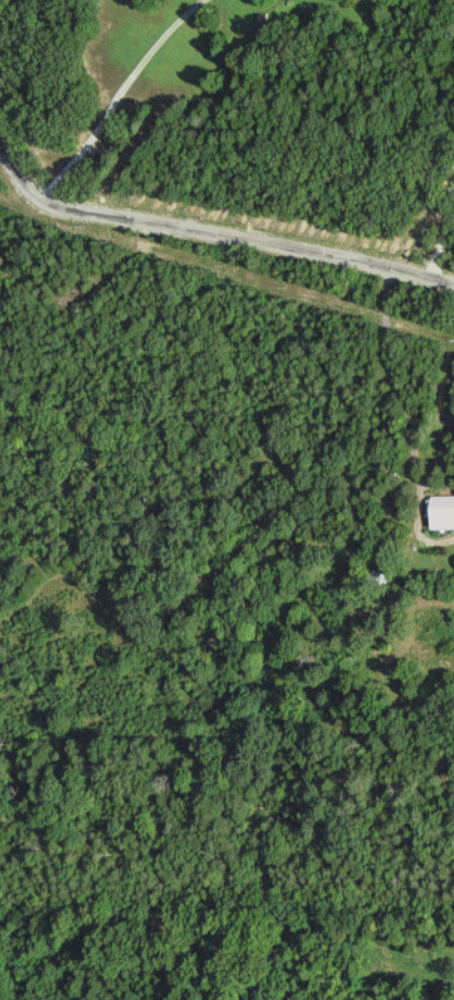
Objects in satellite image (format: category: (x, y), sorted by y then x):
road: (120, 97)
road: (209, 236)
road: (406, 424)

